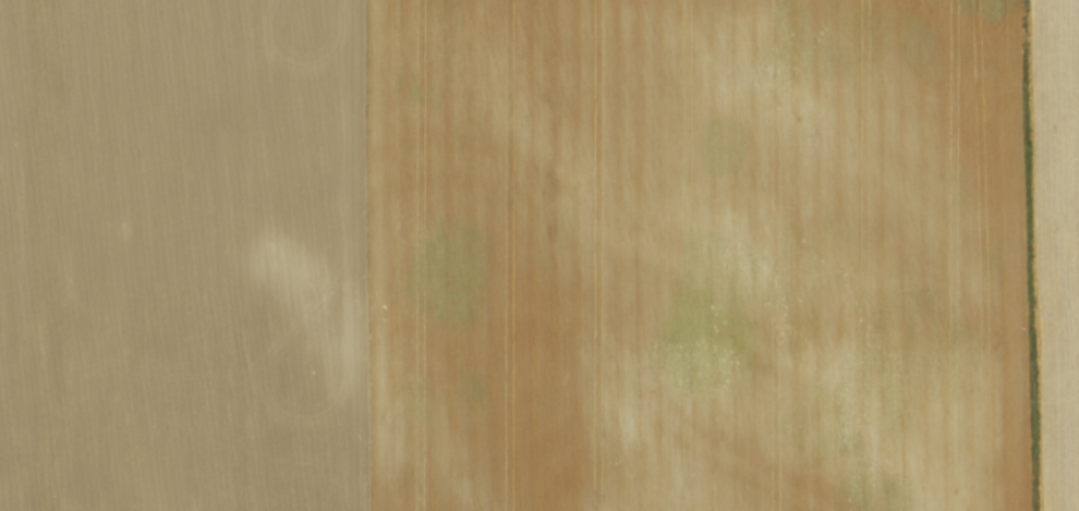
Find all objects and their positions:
crop: (539, 255)

